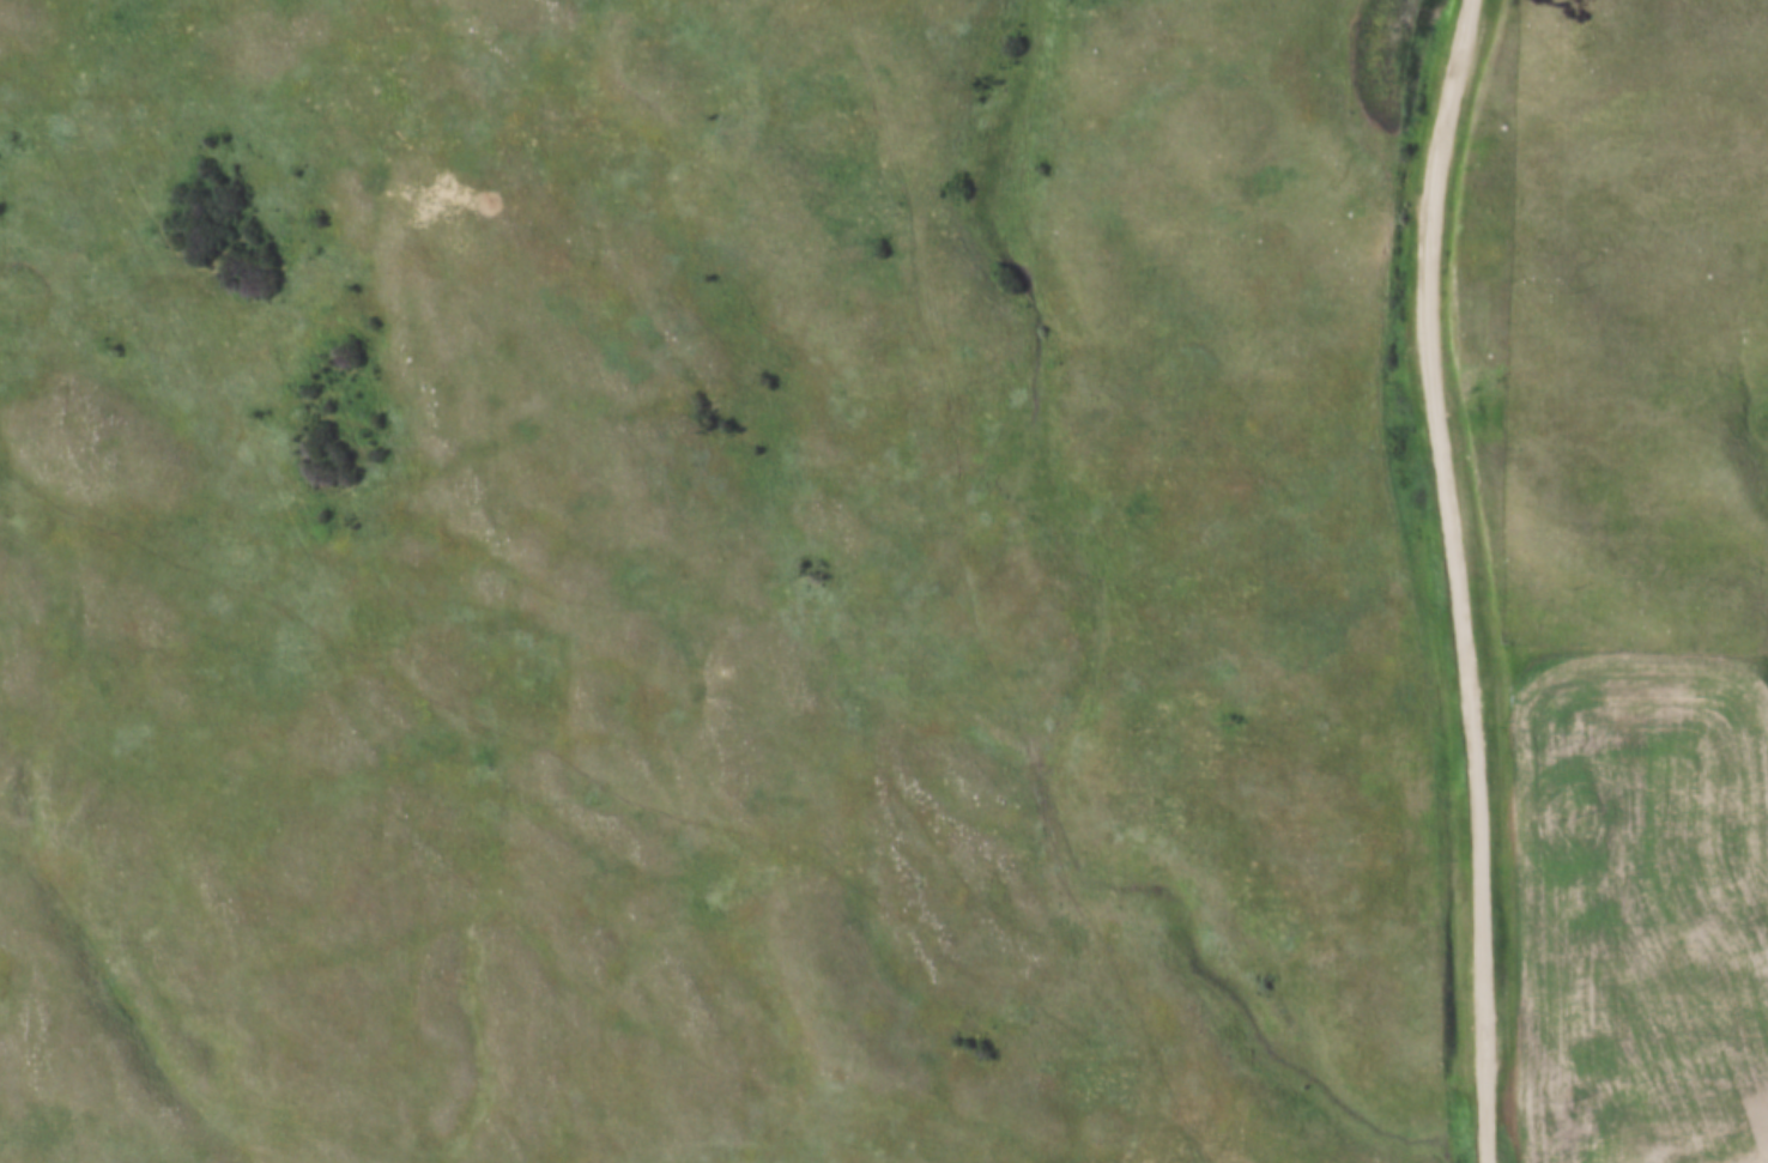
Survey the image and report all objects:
road: (1461, 579)

